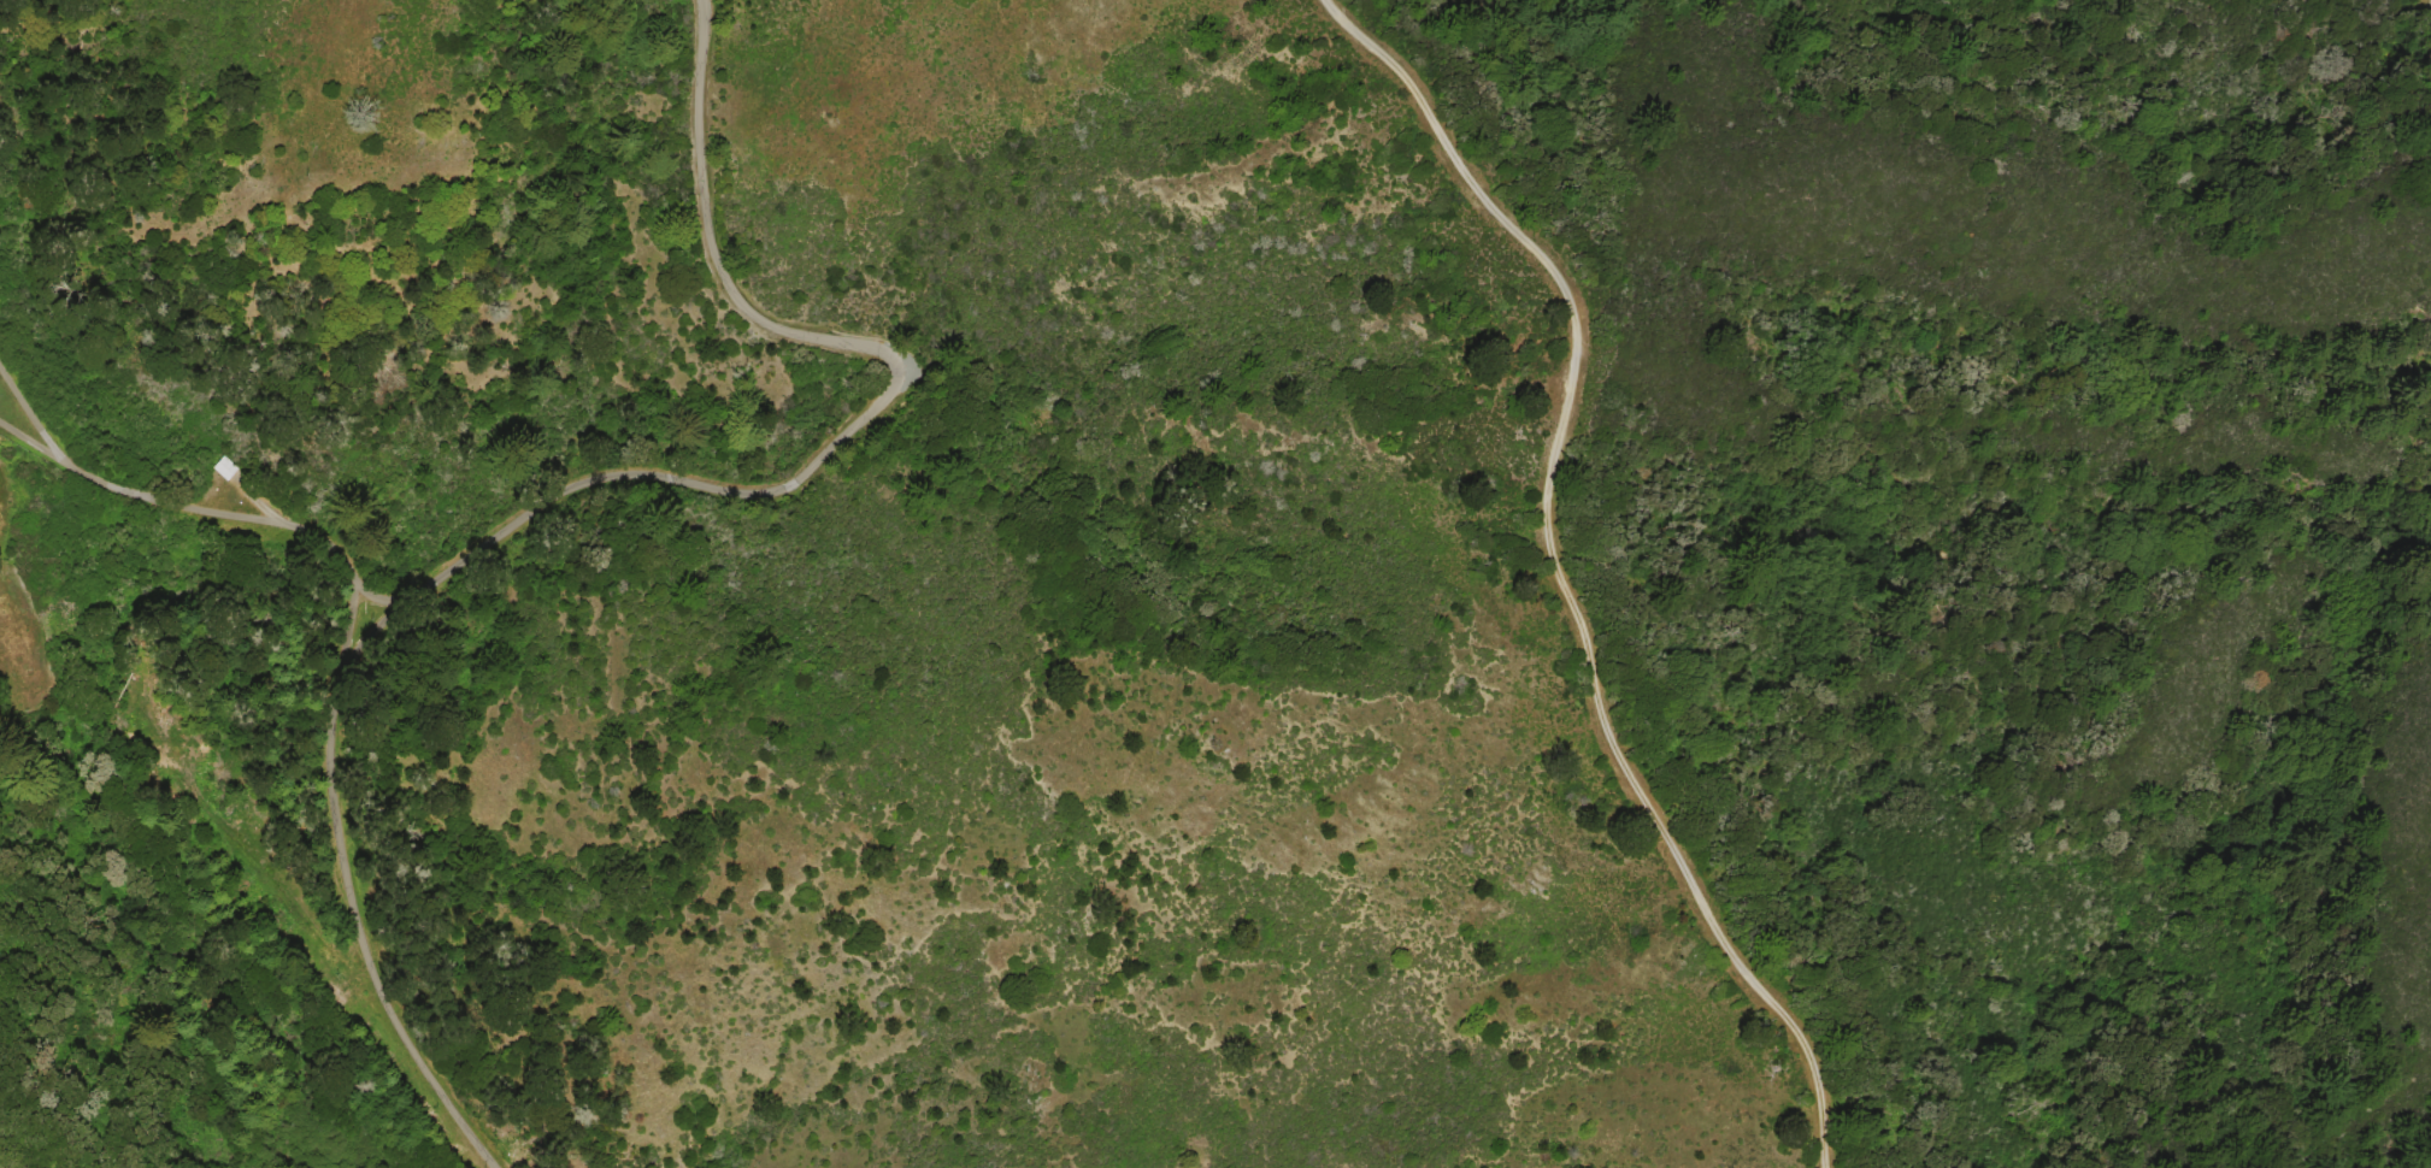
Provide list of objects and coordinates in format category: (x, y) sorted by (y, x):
road: (31, 412)
road: (30, 441)
road: (718, 499)
road: (1558, 572)
road: (358, 867)

